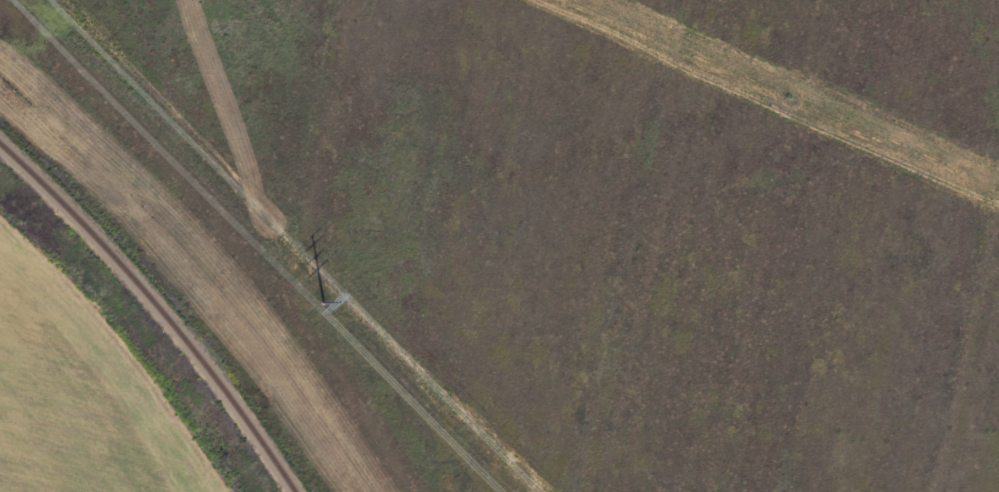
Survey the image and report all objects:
power tower: (325, 301)
railway: (156, 309)

